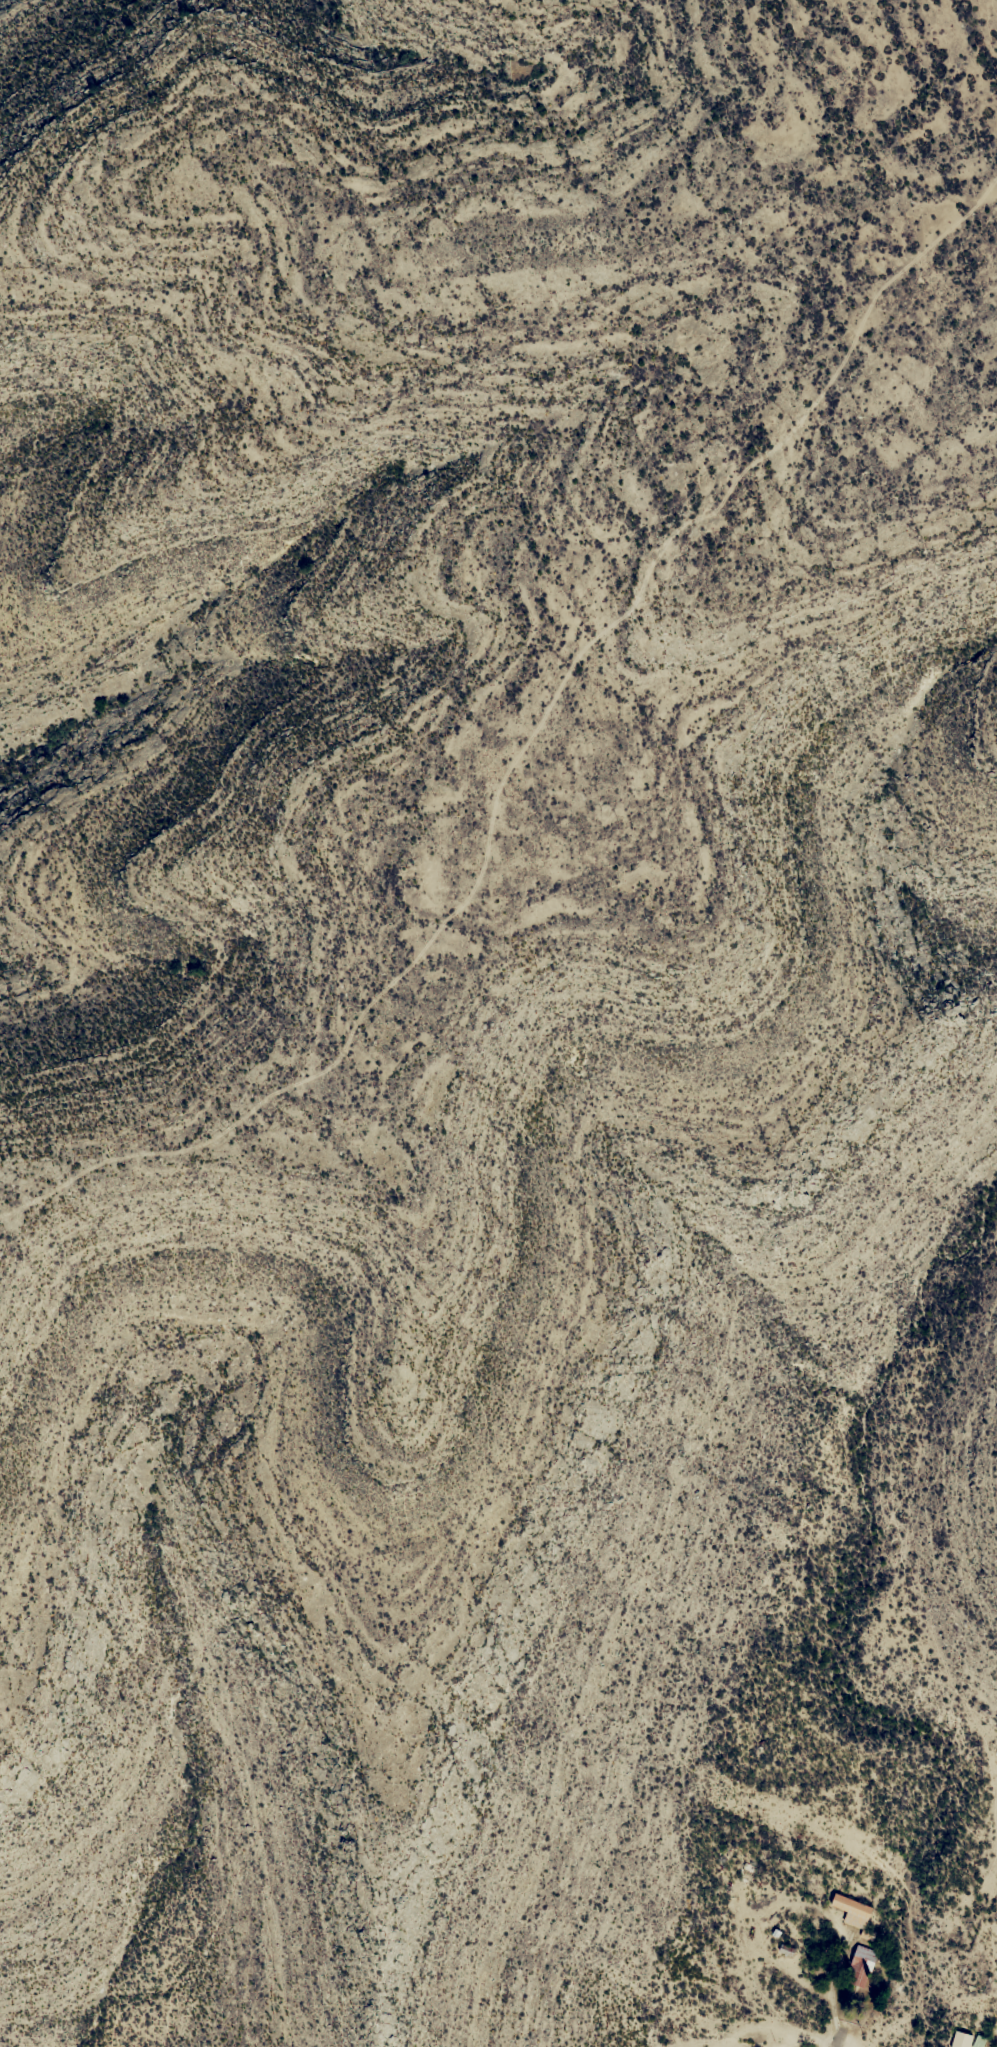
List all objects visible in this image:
building: (854, 1912)
building: (861, 1965)
road: (850, 1998)
building: (962, 2039)

